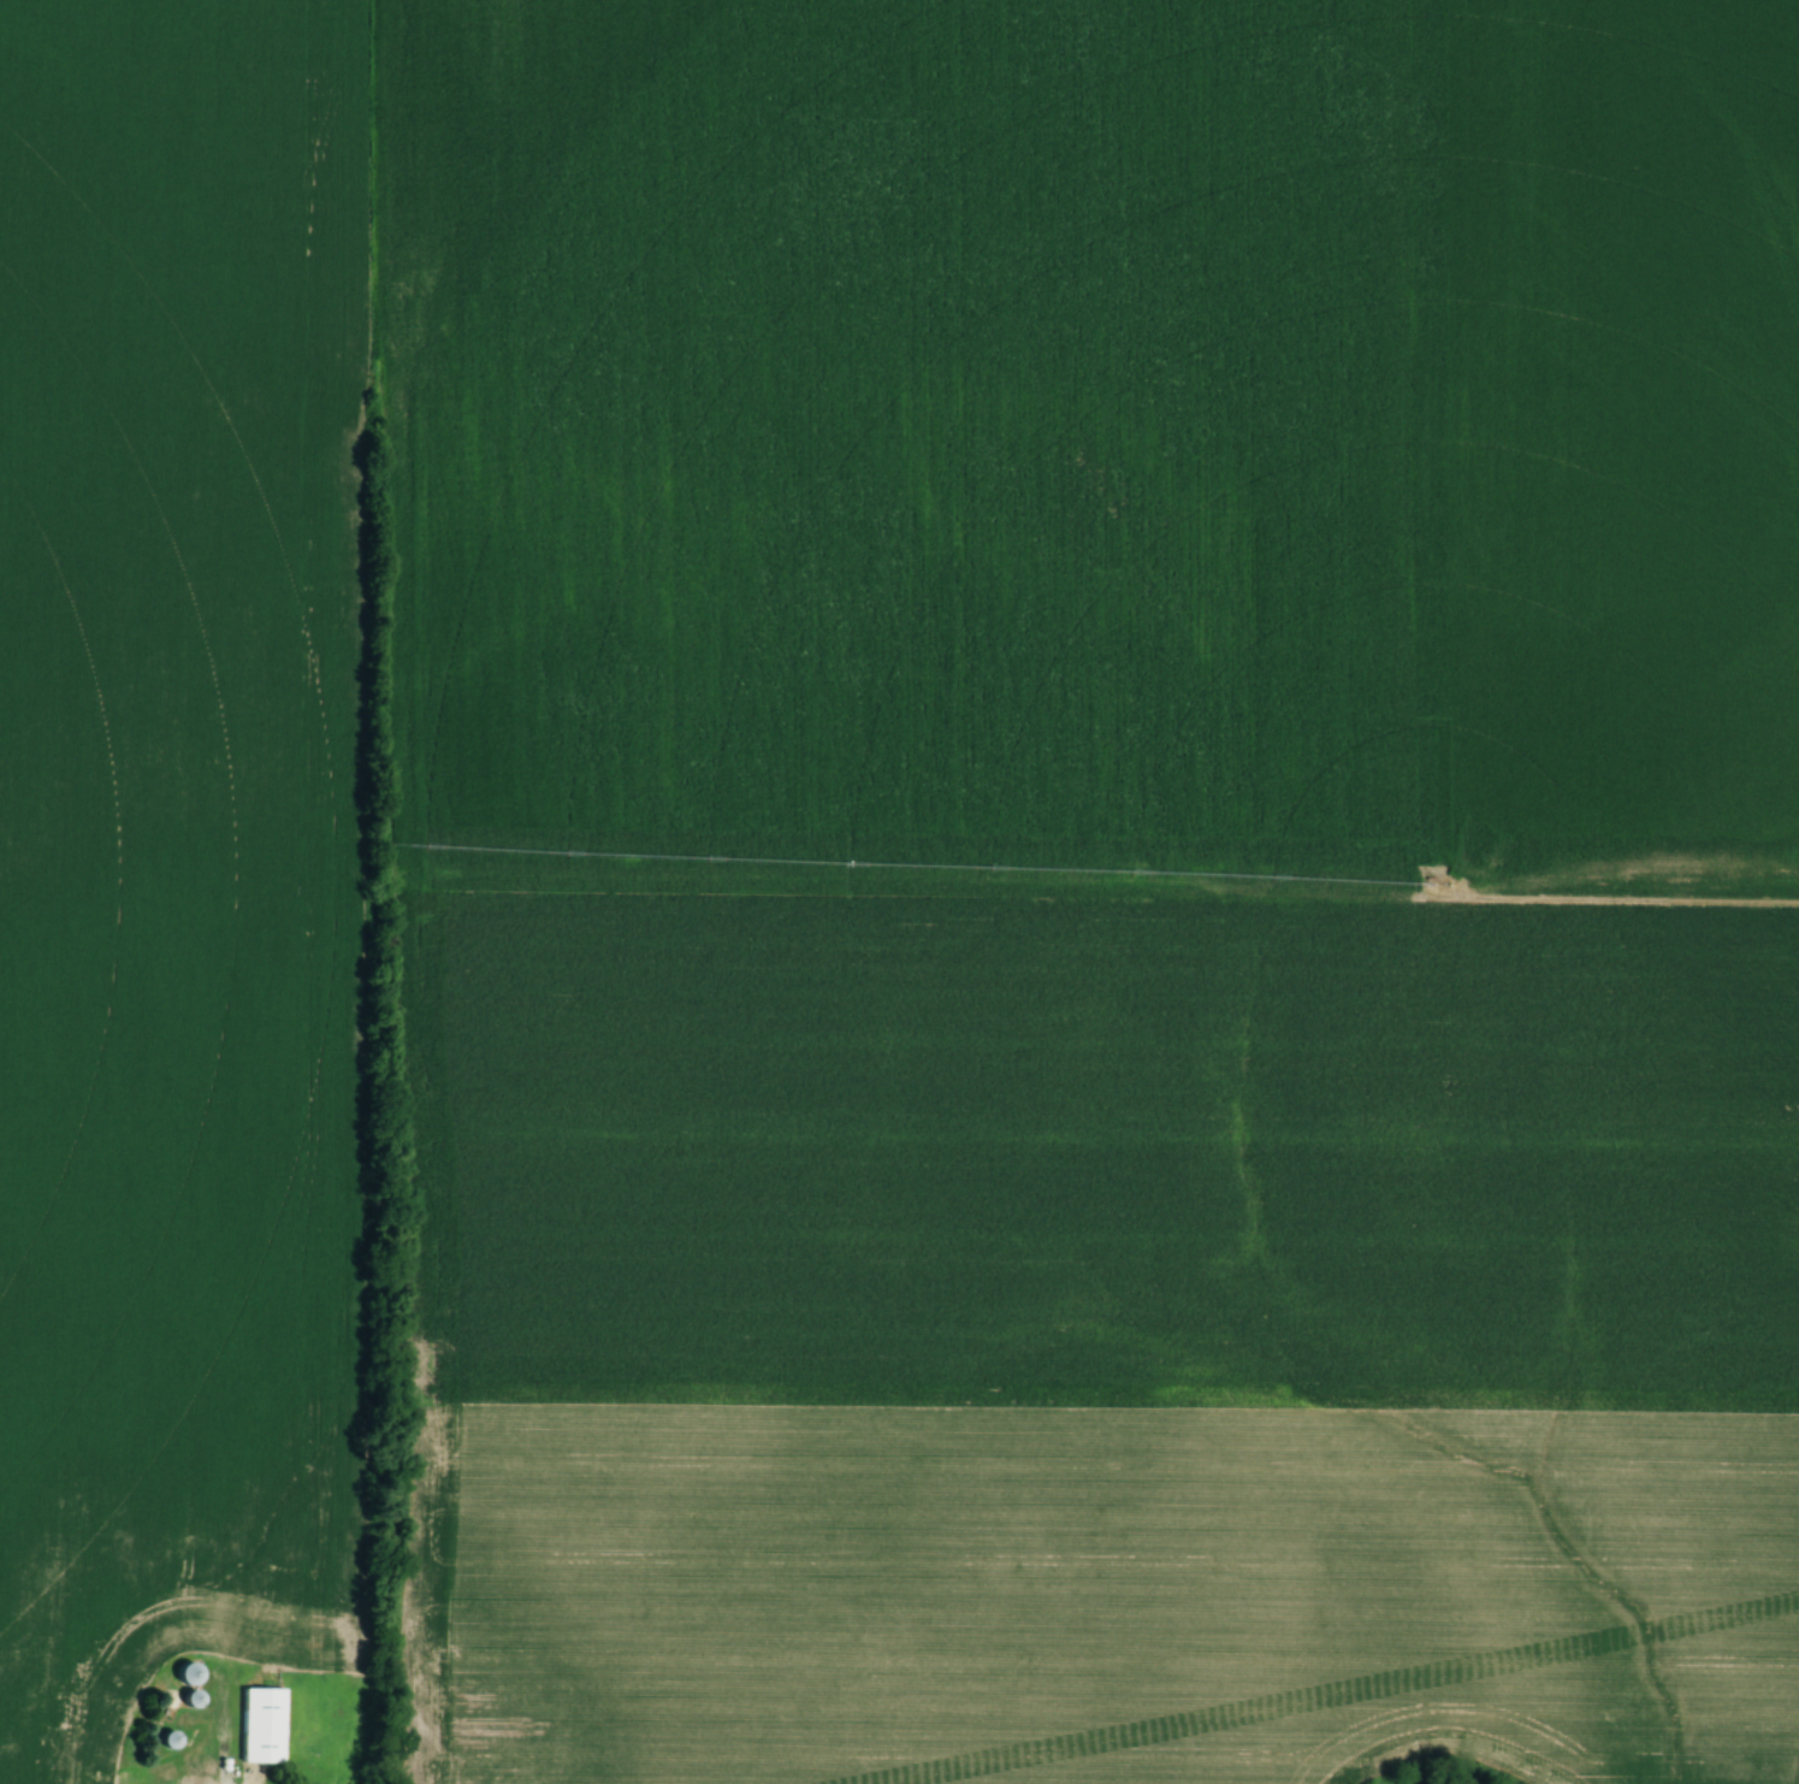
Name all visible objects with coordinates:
building: (195, 1673)
building: (265, 1726)
building: (173, 1741)
road: (238, 1783)

